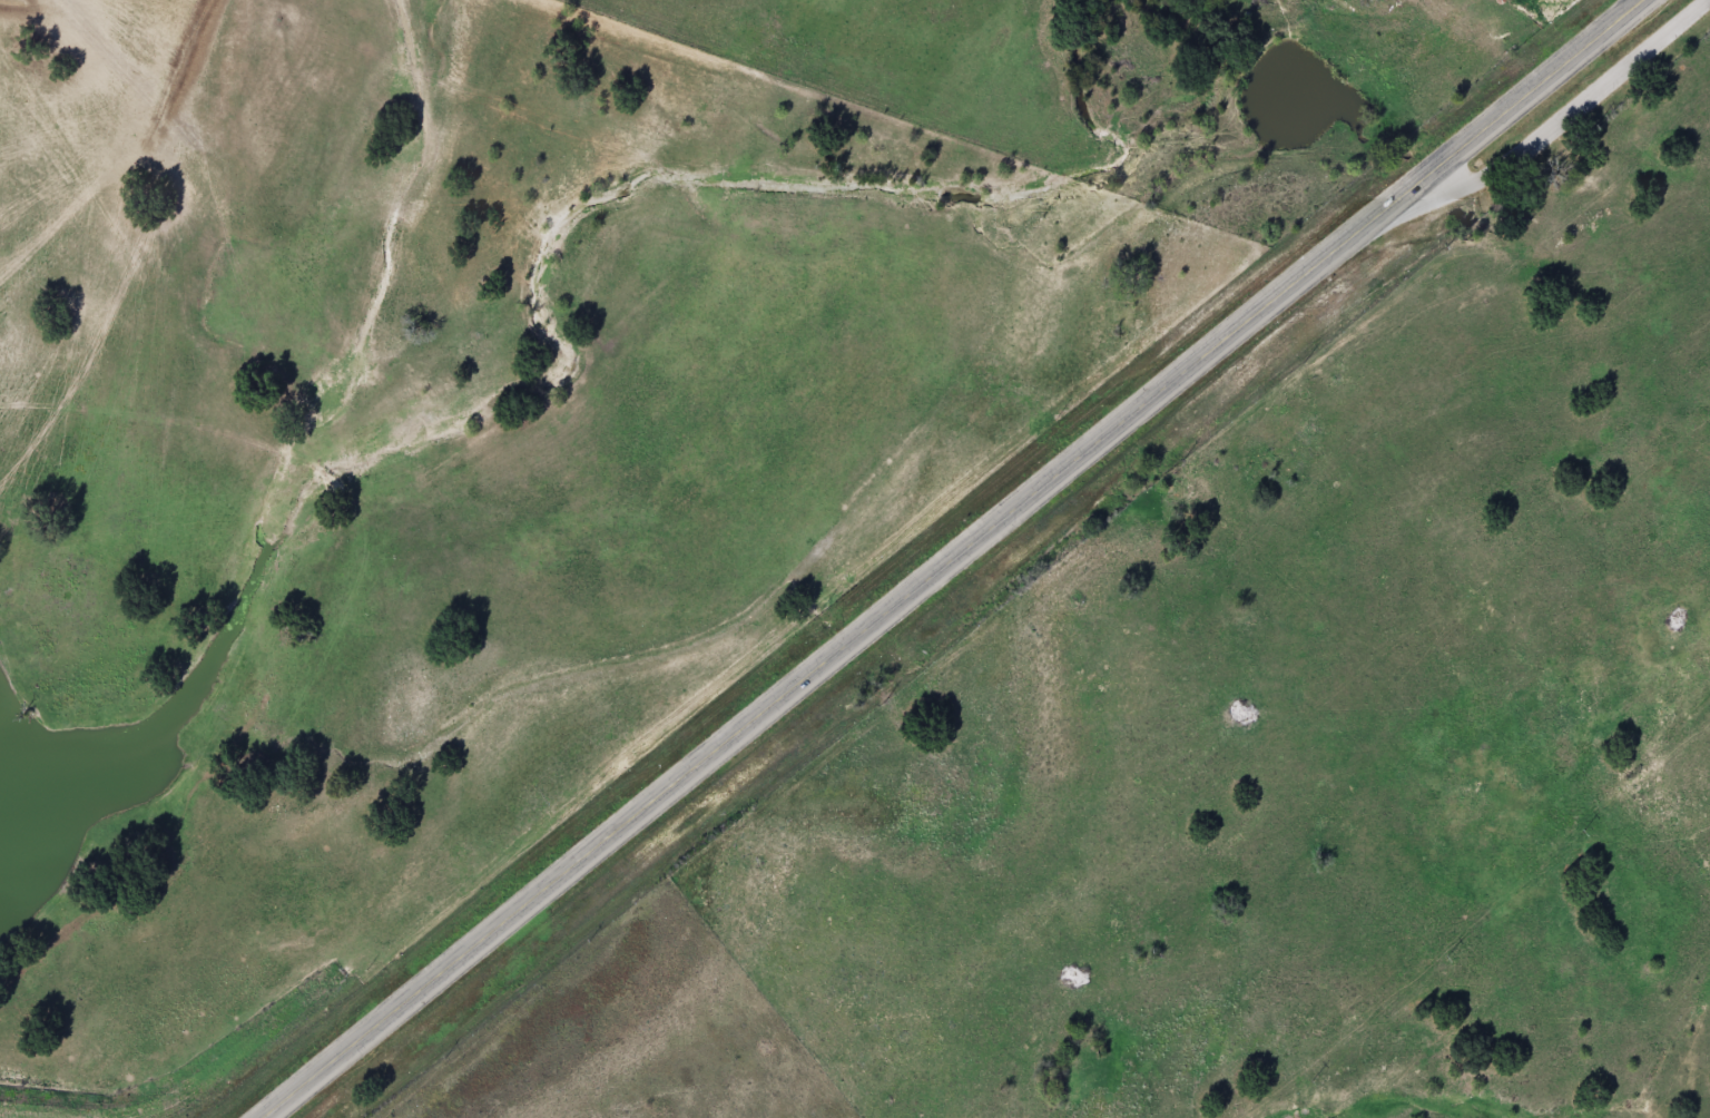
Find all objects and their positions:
road: (952, 559)

